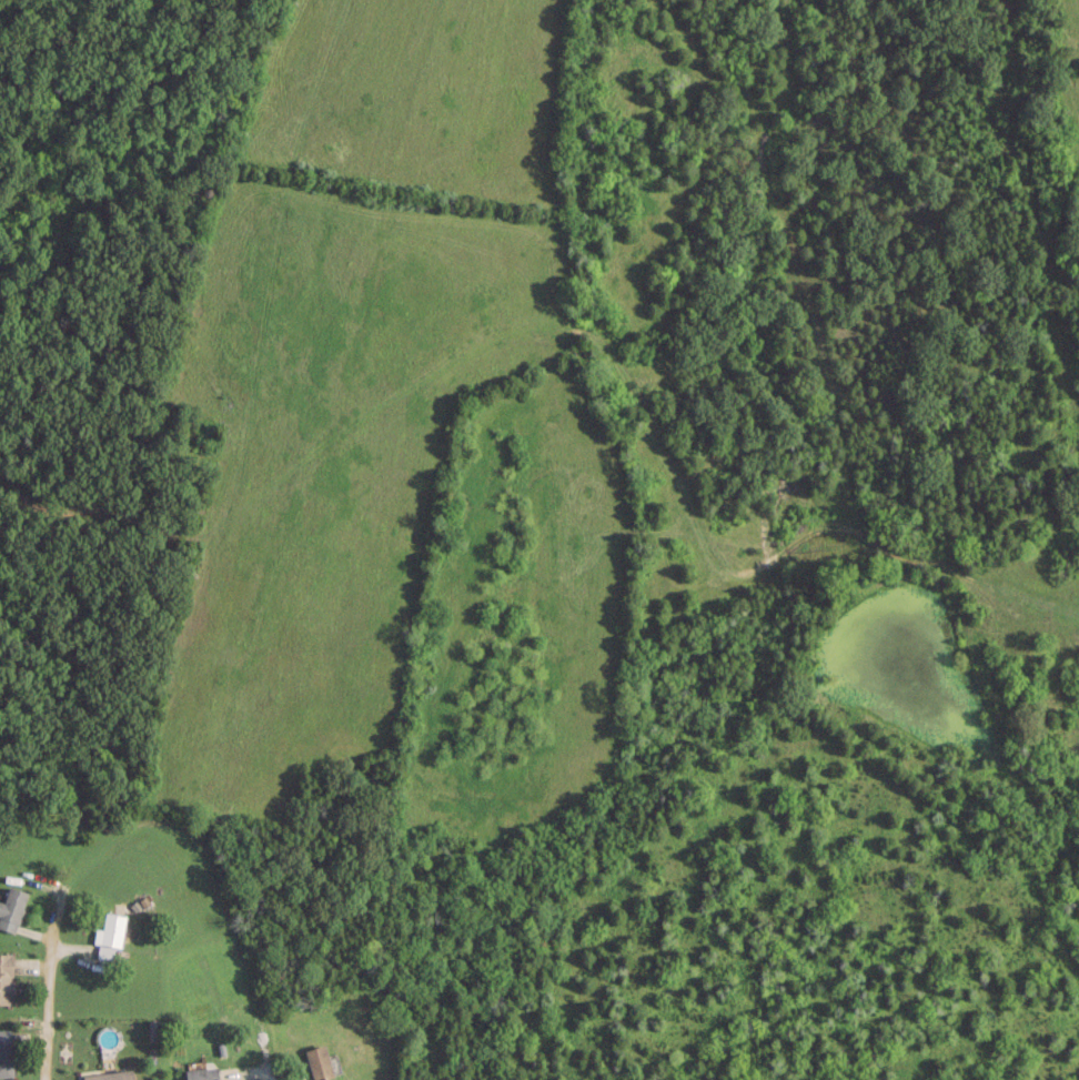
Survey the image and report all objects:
building: (11, 907)
building: (110, 929)
building: (6, 977)
road: (41, 993)
building: (6, 1052)
building: (319, 1062)
building: (202, 1073)
building: (110, 1076)

